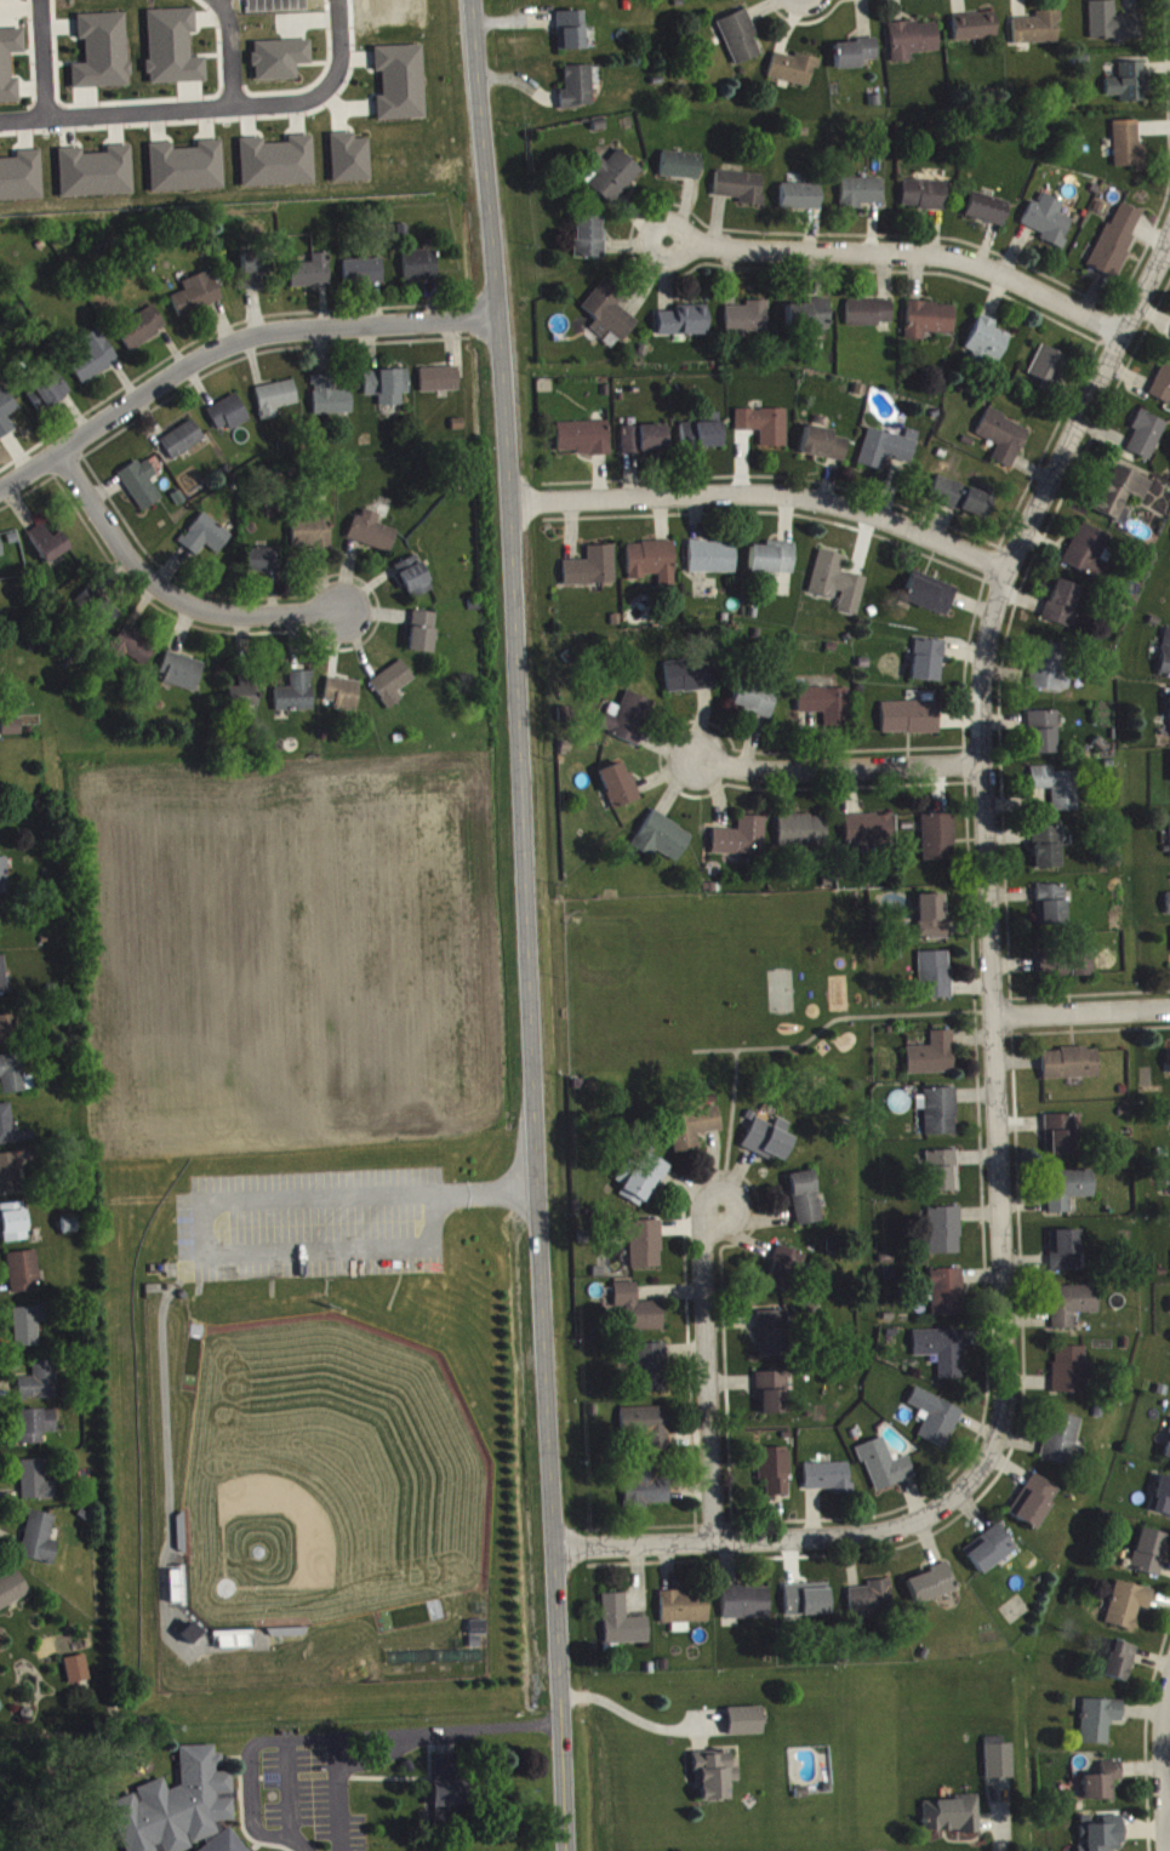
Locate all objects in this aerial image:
building: (92, 0)
building: (721, 0)
building: (1113, 28)
building: (976, 33)
building: (1038, 34)
building: (572, 36)
road: (335, 42)
building: (741, 44)
building: (914, 45)
road: (228, 47)
building: (173, 53)
road: (40, 55)
building: (103, 57)
building: (855, 59)
building: (281, 65)
building: (10, 69)
building: (794, 74)
building: (401, 88)
building: (1130, 88)
building: (578, 93)
road: (165, 102)
building: (1130, 152)
building: (350, 165)
building: (278, 168)
building: (681, 172)
building: (187, 173)
building: (97, 178)
building: (615, 182)
building: (22, 183)
building: (742, 193)
building: (862, 198)
building: (925, 200)
building: (801, 202)
building: (989, 215)
building: (1050, 225)
building: (590, 244)
building: (1118, 246)
road: (904, 258)
building: (421, 270)
building: (257, 278)
building: (313, 278)
building: (365, 278)
building: (198, 299)
building: (610, 318)
building: (871, 319)
building: (810, 321)
building: (749, 324)
building: (931, 325)
building: (685, 327)
building: (143, 333)
road: (228, 345)
building: (989, 345)
building: (95, 362)
building: (1049, 373)
building: (440, 385)
building: (1163, 389)
building: (388, 392)
building: (48, 398)
building: (332, 401)
building: (276, 404)
building: (6, 419)
building: (229, 419)
building: (766, 430)
building: (704, 438)
building: (1147, 441)
building: (1005, 442)
building: (584, 444)
building: (183, 445)
building: (646, 445)
building: (826, 450)
building: (889, 455)
building: (142, 490)
road: (763, 497)
building: (1122, 499)
building: (970, 505)
building: (373, 537)
building: (312, 538)
building: (206, 542)
building: (50, 549)
building: (1, 554)
building: (1089, 558)
building: (713, 564)
building: (775, 565)
building: (264, 566)
building: (654, 567)
building: (593, 573)
building: (415, 582)
building: (839, 588)
road: (171, 598)
building: (931, 600)
building: (1063, 609)
building: (105, 621)
building: (423, 638)
building: (133, 652)
building: (1166, 663)
building: (930, 667)
building: (1051, 673)
building: (183, 678)
building: (690, 681)
building: (393, 690)
building: (244, 697)
building: (297, 699)
building: (344, 699)
building: (755, 704)
building: (912, 722)
building: (629, 724)
building: (13, 733)
building: (1044, 738)
road: (839, 773)
building: (620, 792)
building: (1058, 793)
building: (871, 835)
building: (804, 840)
building: (663, 844)
building: (742, 844)
building: (940, 844)
road: (988, 852)
building: (1049, 853)
building: (5, 882)
building: (1168, 909)
building: (1052, 910)
building: (932, 922)
road: (525, 925)
building: (1079, 970)
building: (936, 981)
building: (4, 982)
road: (1084, 1019)
building: (7, 1035)
building: (934, 1062)
building: (1071, 1069)
building: (941, 1118)
building: (695, 1132)
building: (11, 1133)
building: (1061, 1141)
building: (769, 1146)
building: (943, 1177)
building: (10, 1179)
building: (645, 1187)
building: (1069, 1195)
road: (215, 1202)
building: (806, 1204)
building: (15, 1228)
building: (946, 1236)
building: (646, 1250)
building: (1067, 1256)
building: (788, 1274)
building: (24, 1276)
building: (948, 1298)
building: (1073, 1310)
building: (638, 1315)
building: (29, 1331)
building: (772, 1339)
building: (943, 1356)
building: (651, 1373)
road: (707, 1375)
building: (1071, 1376)
building: (41, 1388)
building: (774, 1398)
building: (936, 1423)
building: (35, 1432)
building: (649, 1432)
building: (1062, 1444)
building: (1168, 1457)
building: (885, 1472)
building: (774, 1478)
building: (829, 1484)
building: (35, 1487)
building: (651, 1492)
building: (1162, 1503)
building: (1034, 1507)
building: (39, 1544)
road: (765, 1544)
building: (989, 1555)
building: (1148, 1559)
building: (932, 1590)
building: (12, 1596)
building: (872, 1604)
building: (807, 1606)
building: (747, 1609)
building: (1128, 1611)
building: (685, 1615)
building: (623, 1628)
building: (478, 1638)
building: (192, 1640)
building: (1119, 1667)
building: (76, 1675)
road: (635, 1719)
building: (1098, 1726)
building: (744, 1727)
road: (392, 1729)
road: (377, 1755)
building: (999, 1765)
road: (247, 1769)
building: (446, 1772)
road: (1166, 1776)
building: (714, 1782)
building: (1102, 1788)
building: (449, 1800)
road: (1169, 1800)
building: (181, 1811)
building: (953, 1822)
road: (997, 1823)

